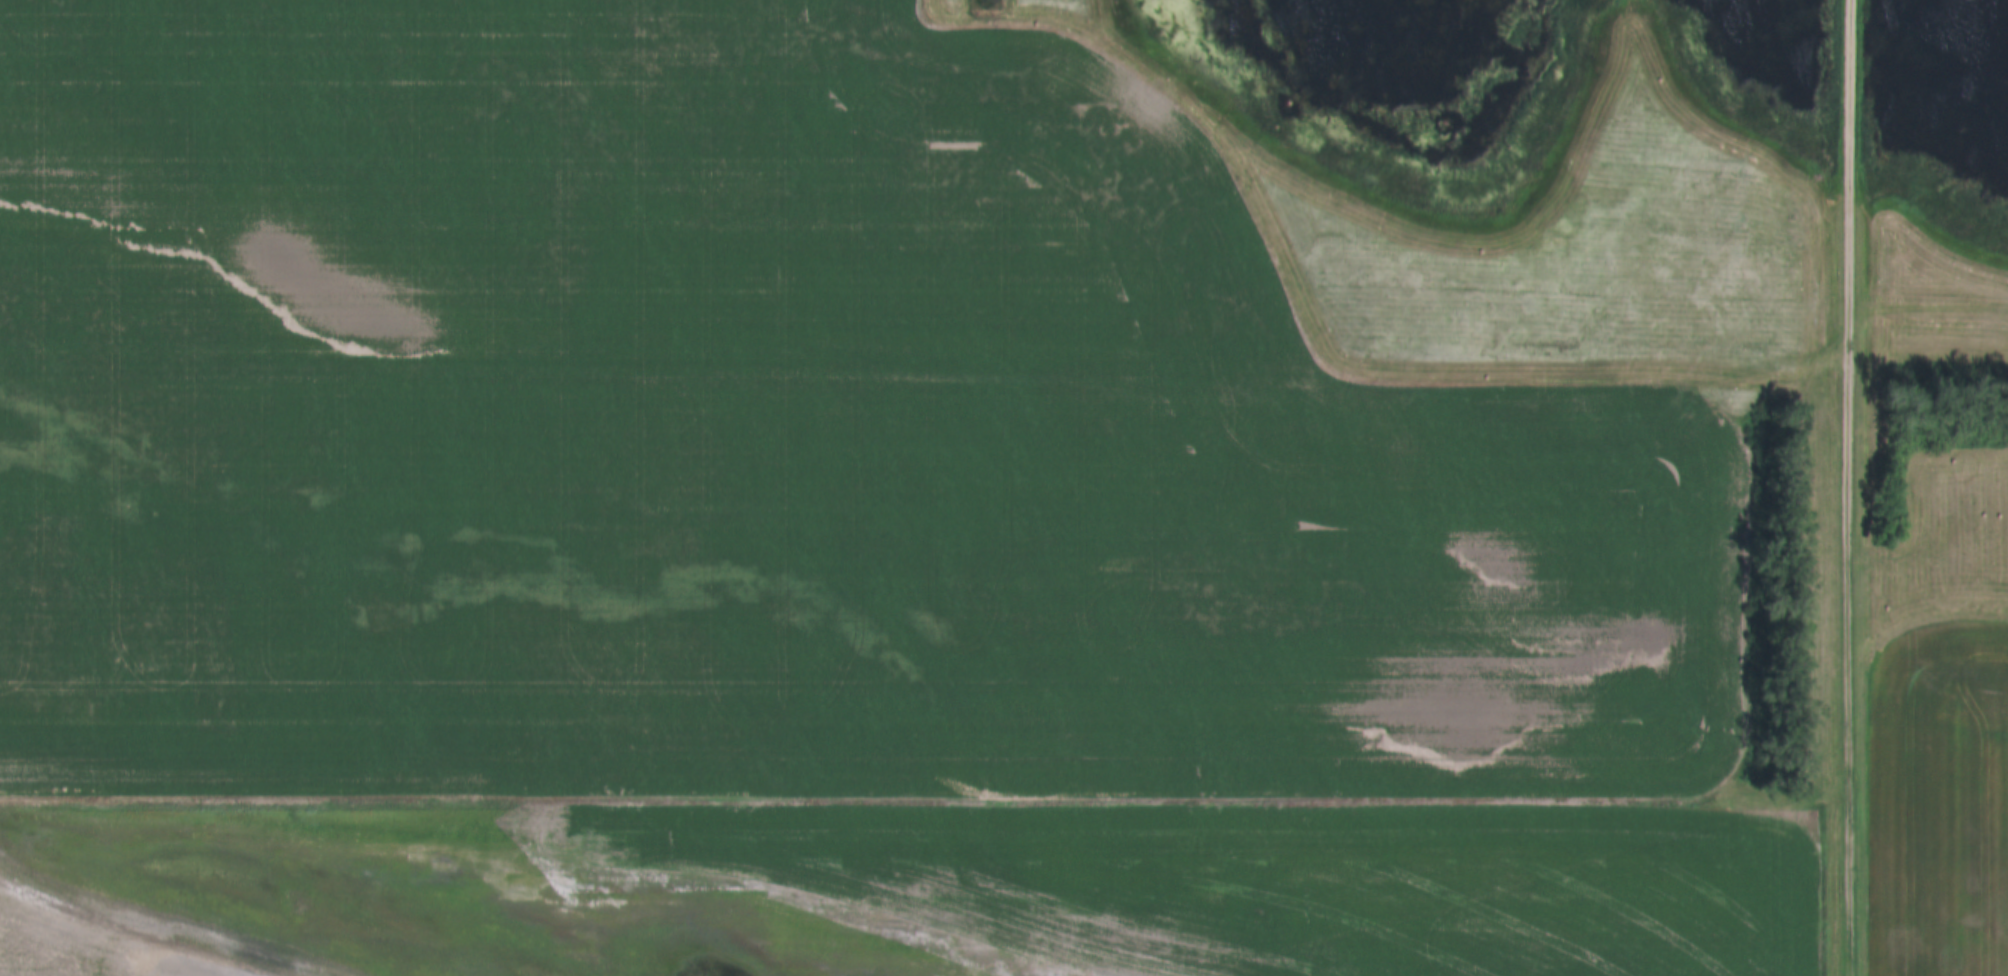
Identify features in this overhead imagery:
road: (1847, 488)
crop: (902, 889)

